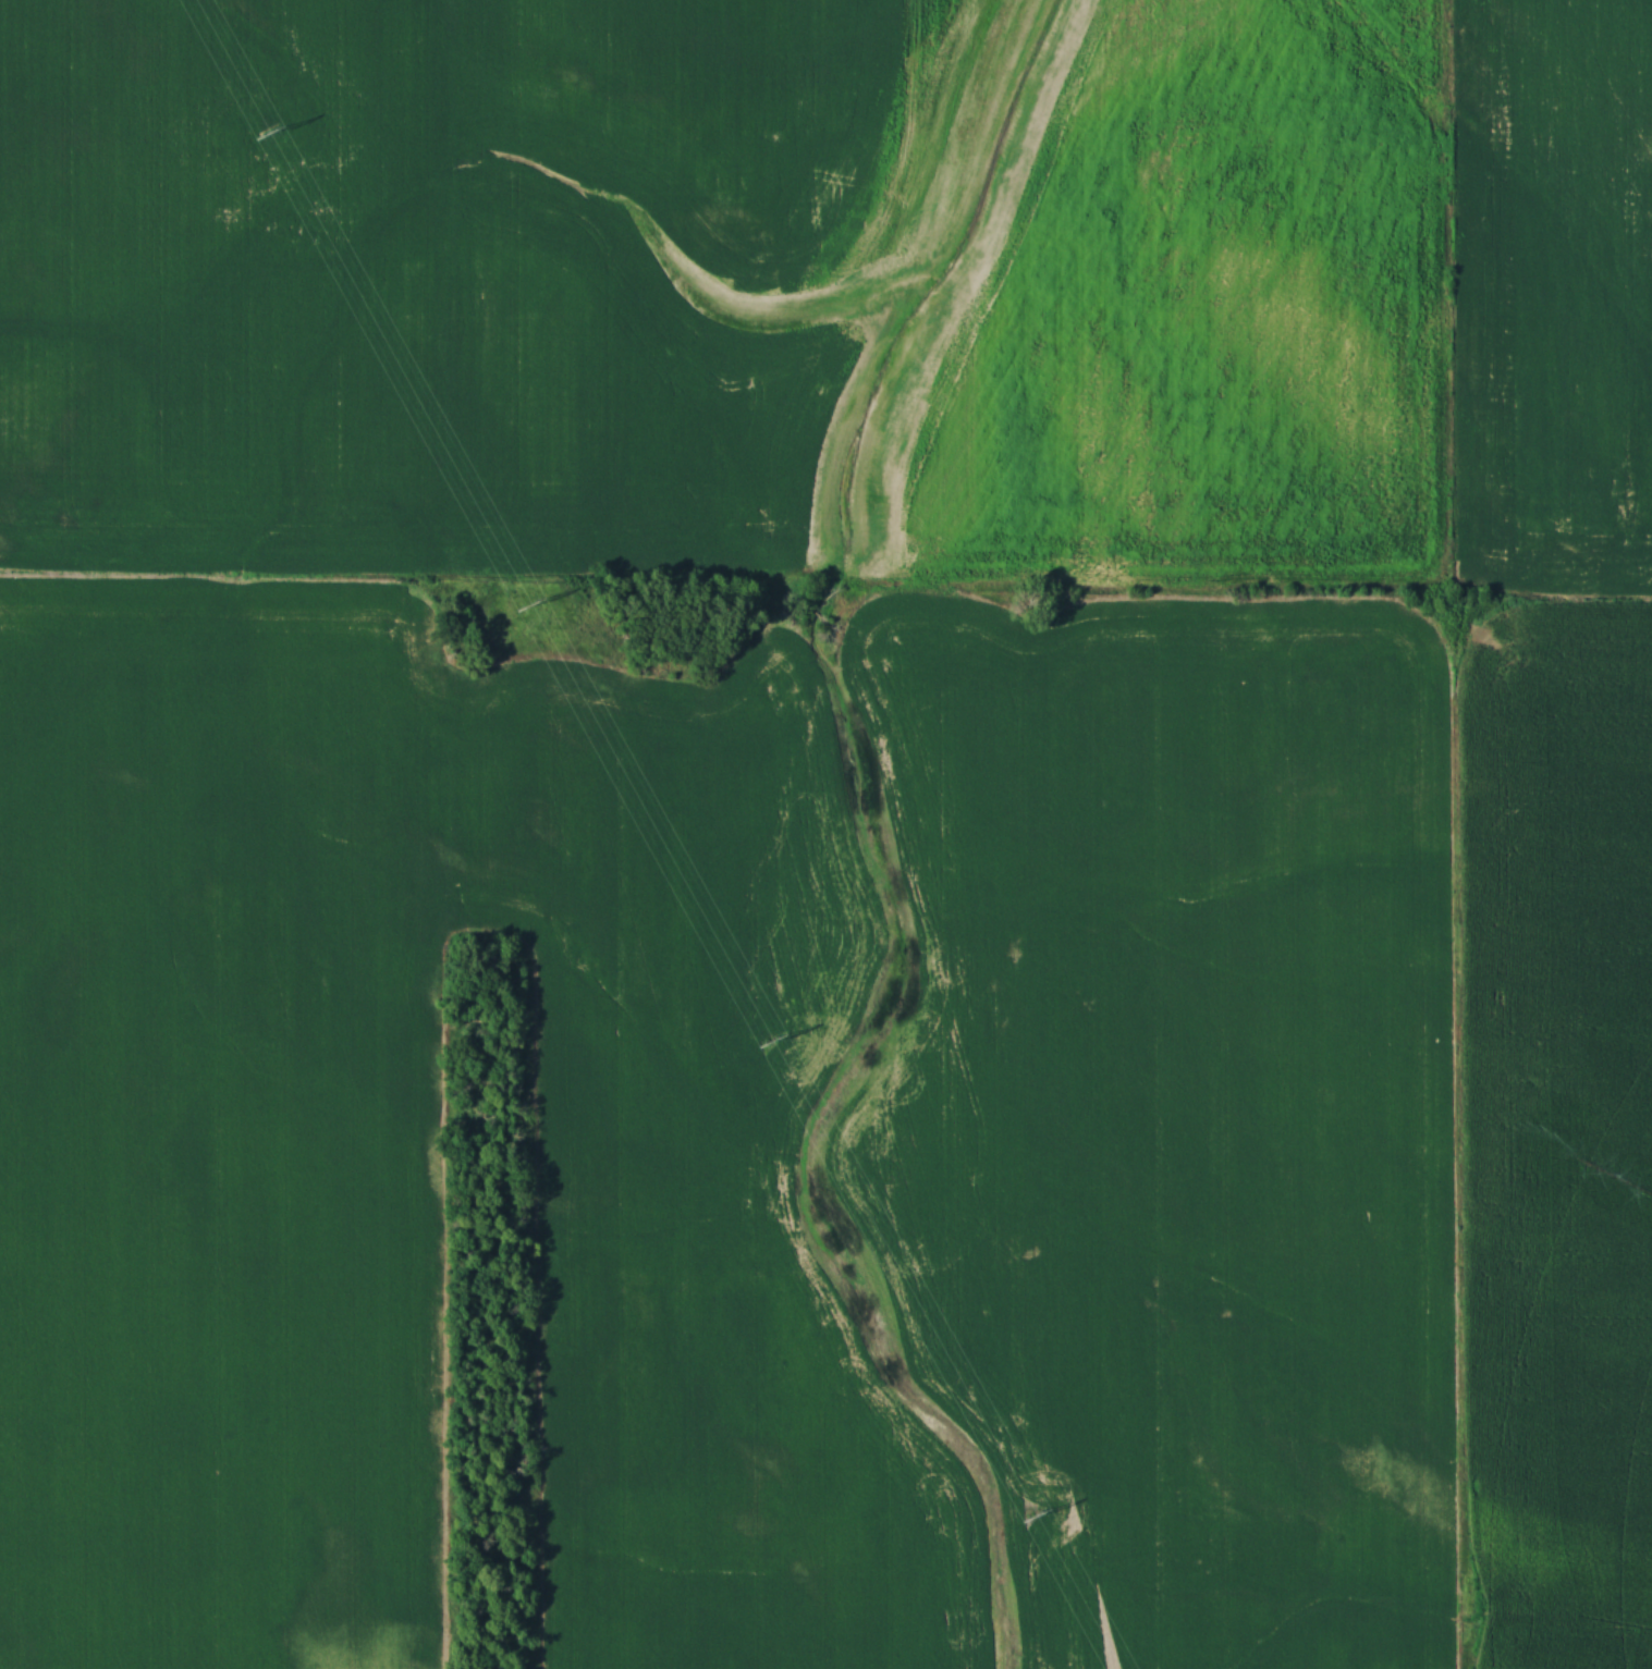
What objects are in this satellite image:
power tower: (266, 127)
power tower: (530, 602)
power tower: (769, 1036)
power tower: (1032, 1511)

